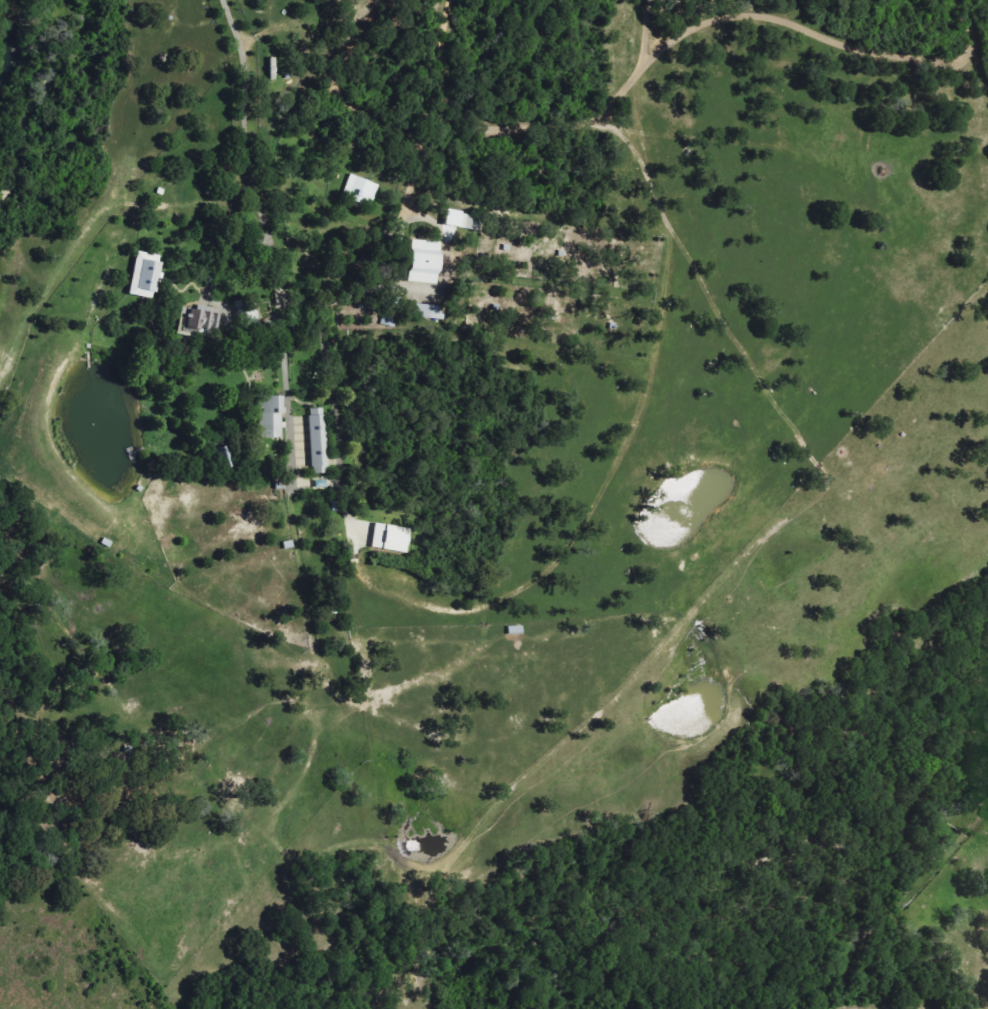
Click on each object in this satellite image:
road: (826, 28)
road: (537, 118)
road: (244, 167)
building: (361, 191)
building: (427, 263)
building: (146, 275)
building: (428, 312)
building: (201, 321)
building: (272, 418)
building: (320, 442)
building: (392, 539)

